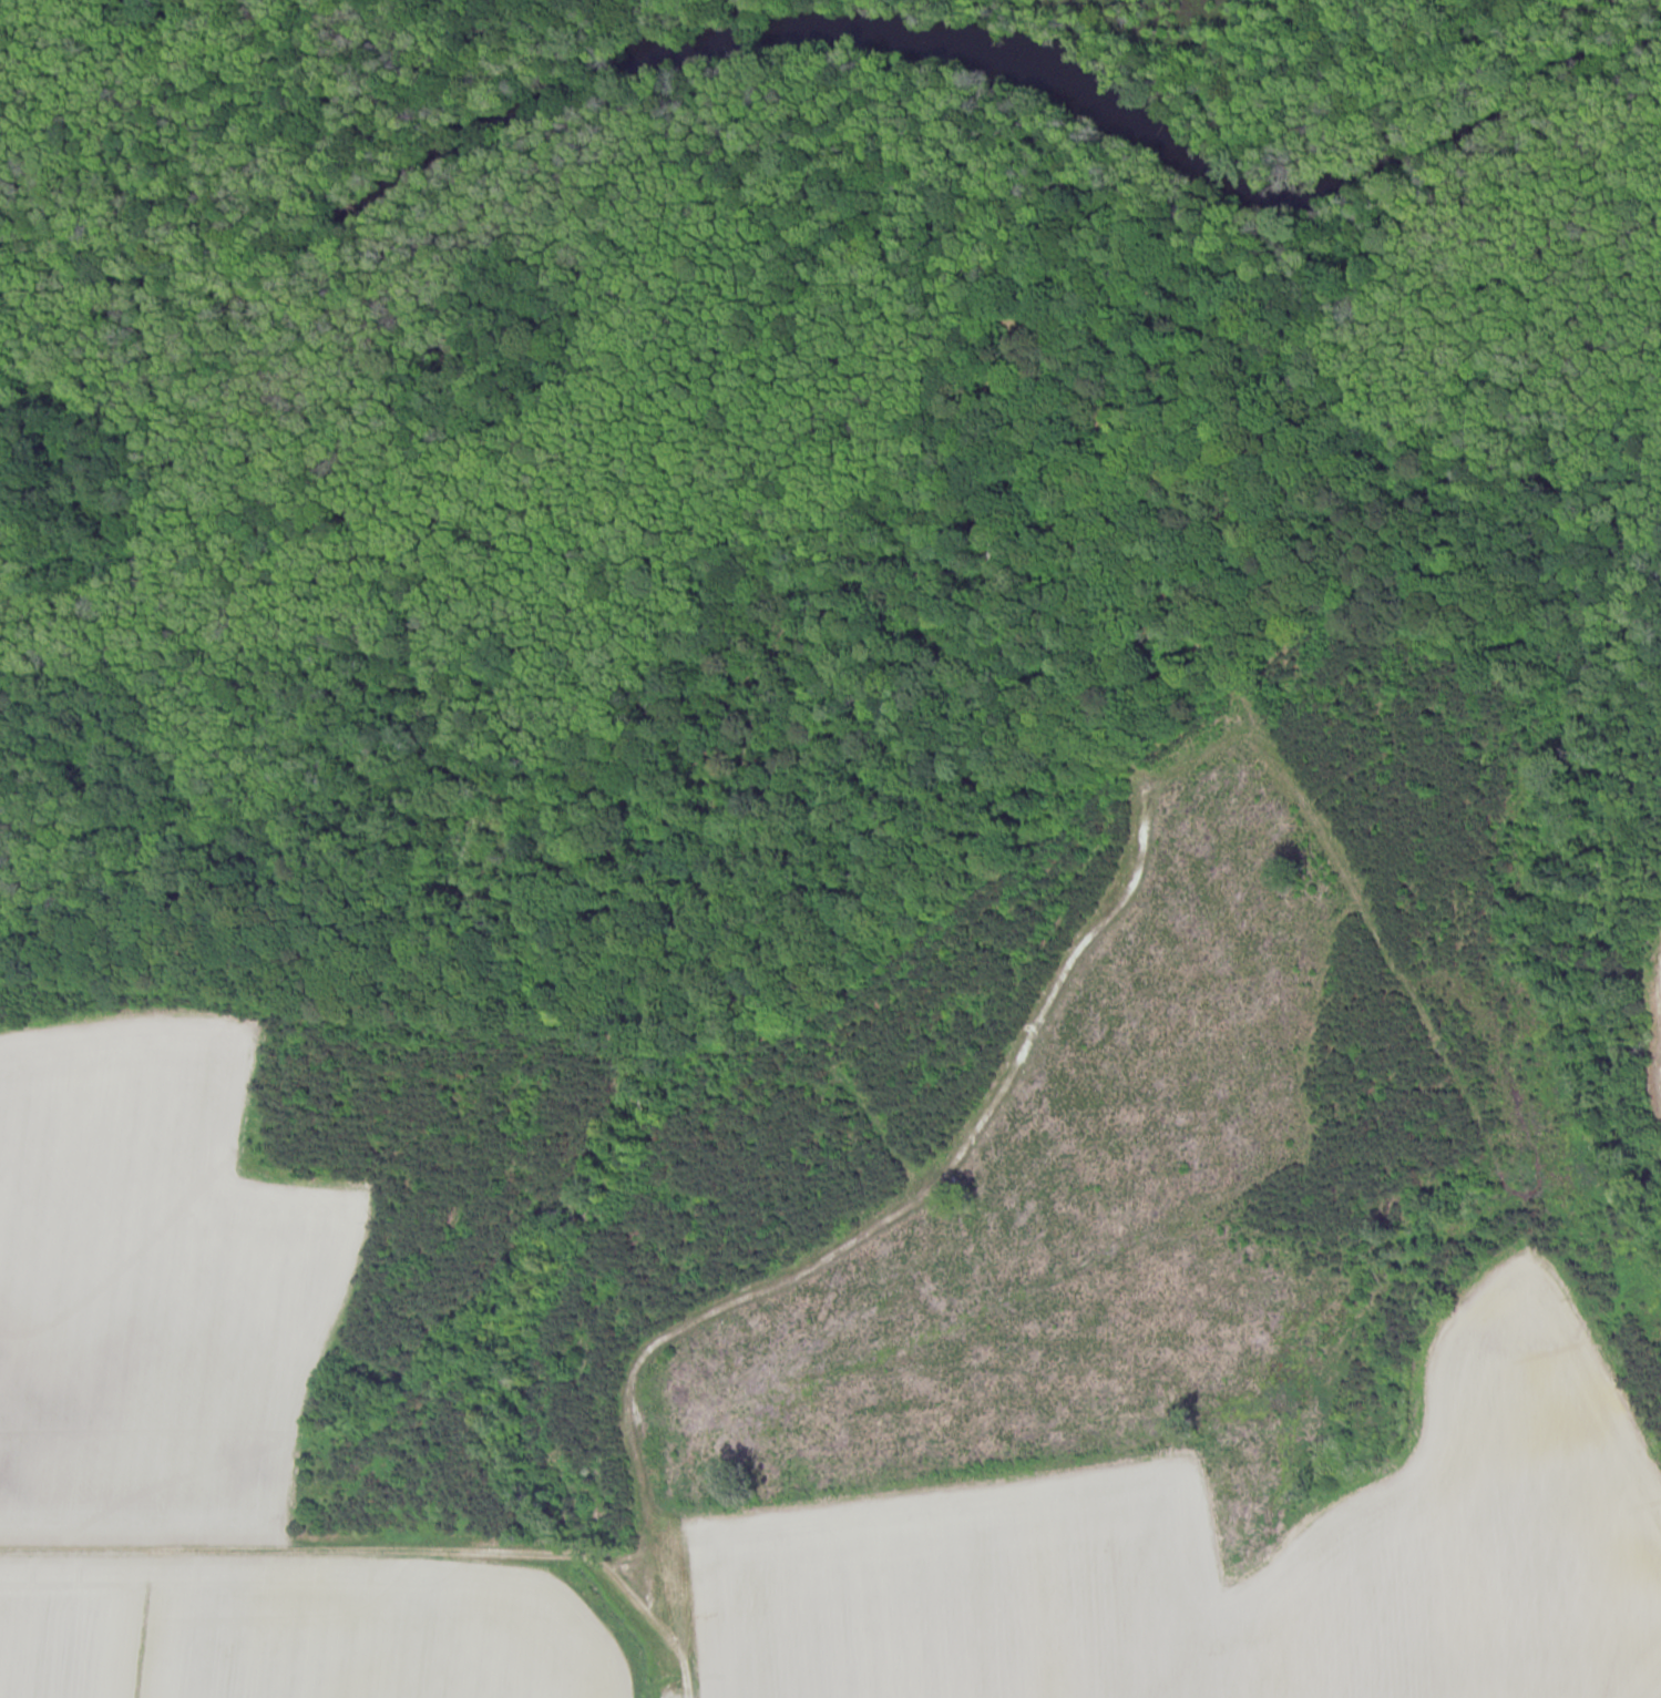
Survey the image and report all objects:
park: (748, 551)

